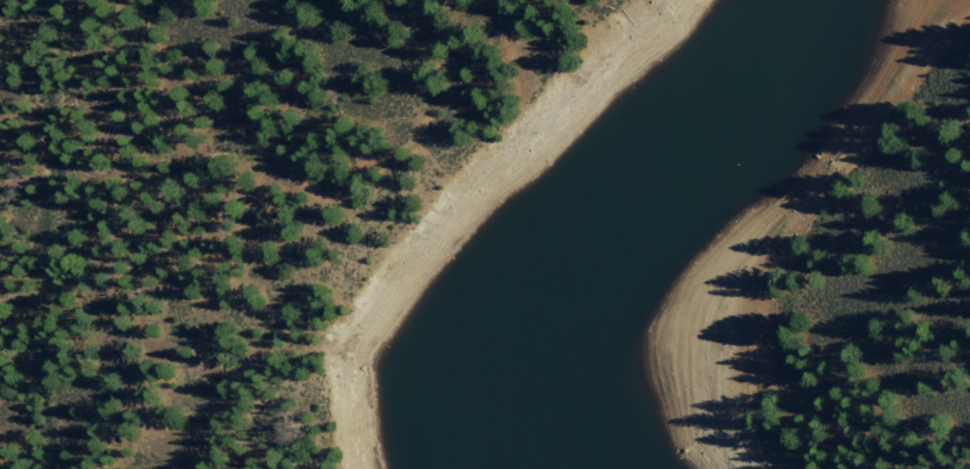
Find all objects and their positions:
road: (320, 196)
road: (809, 415)

